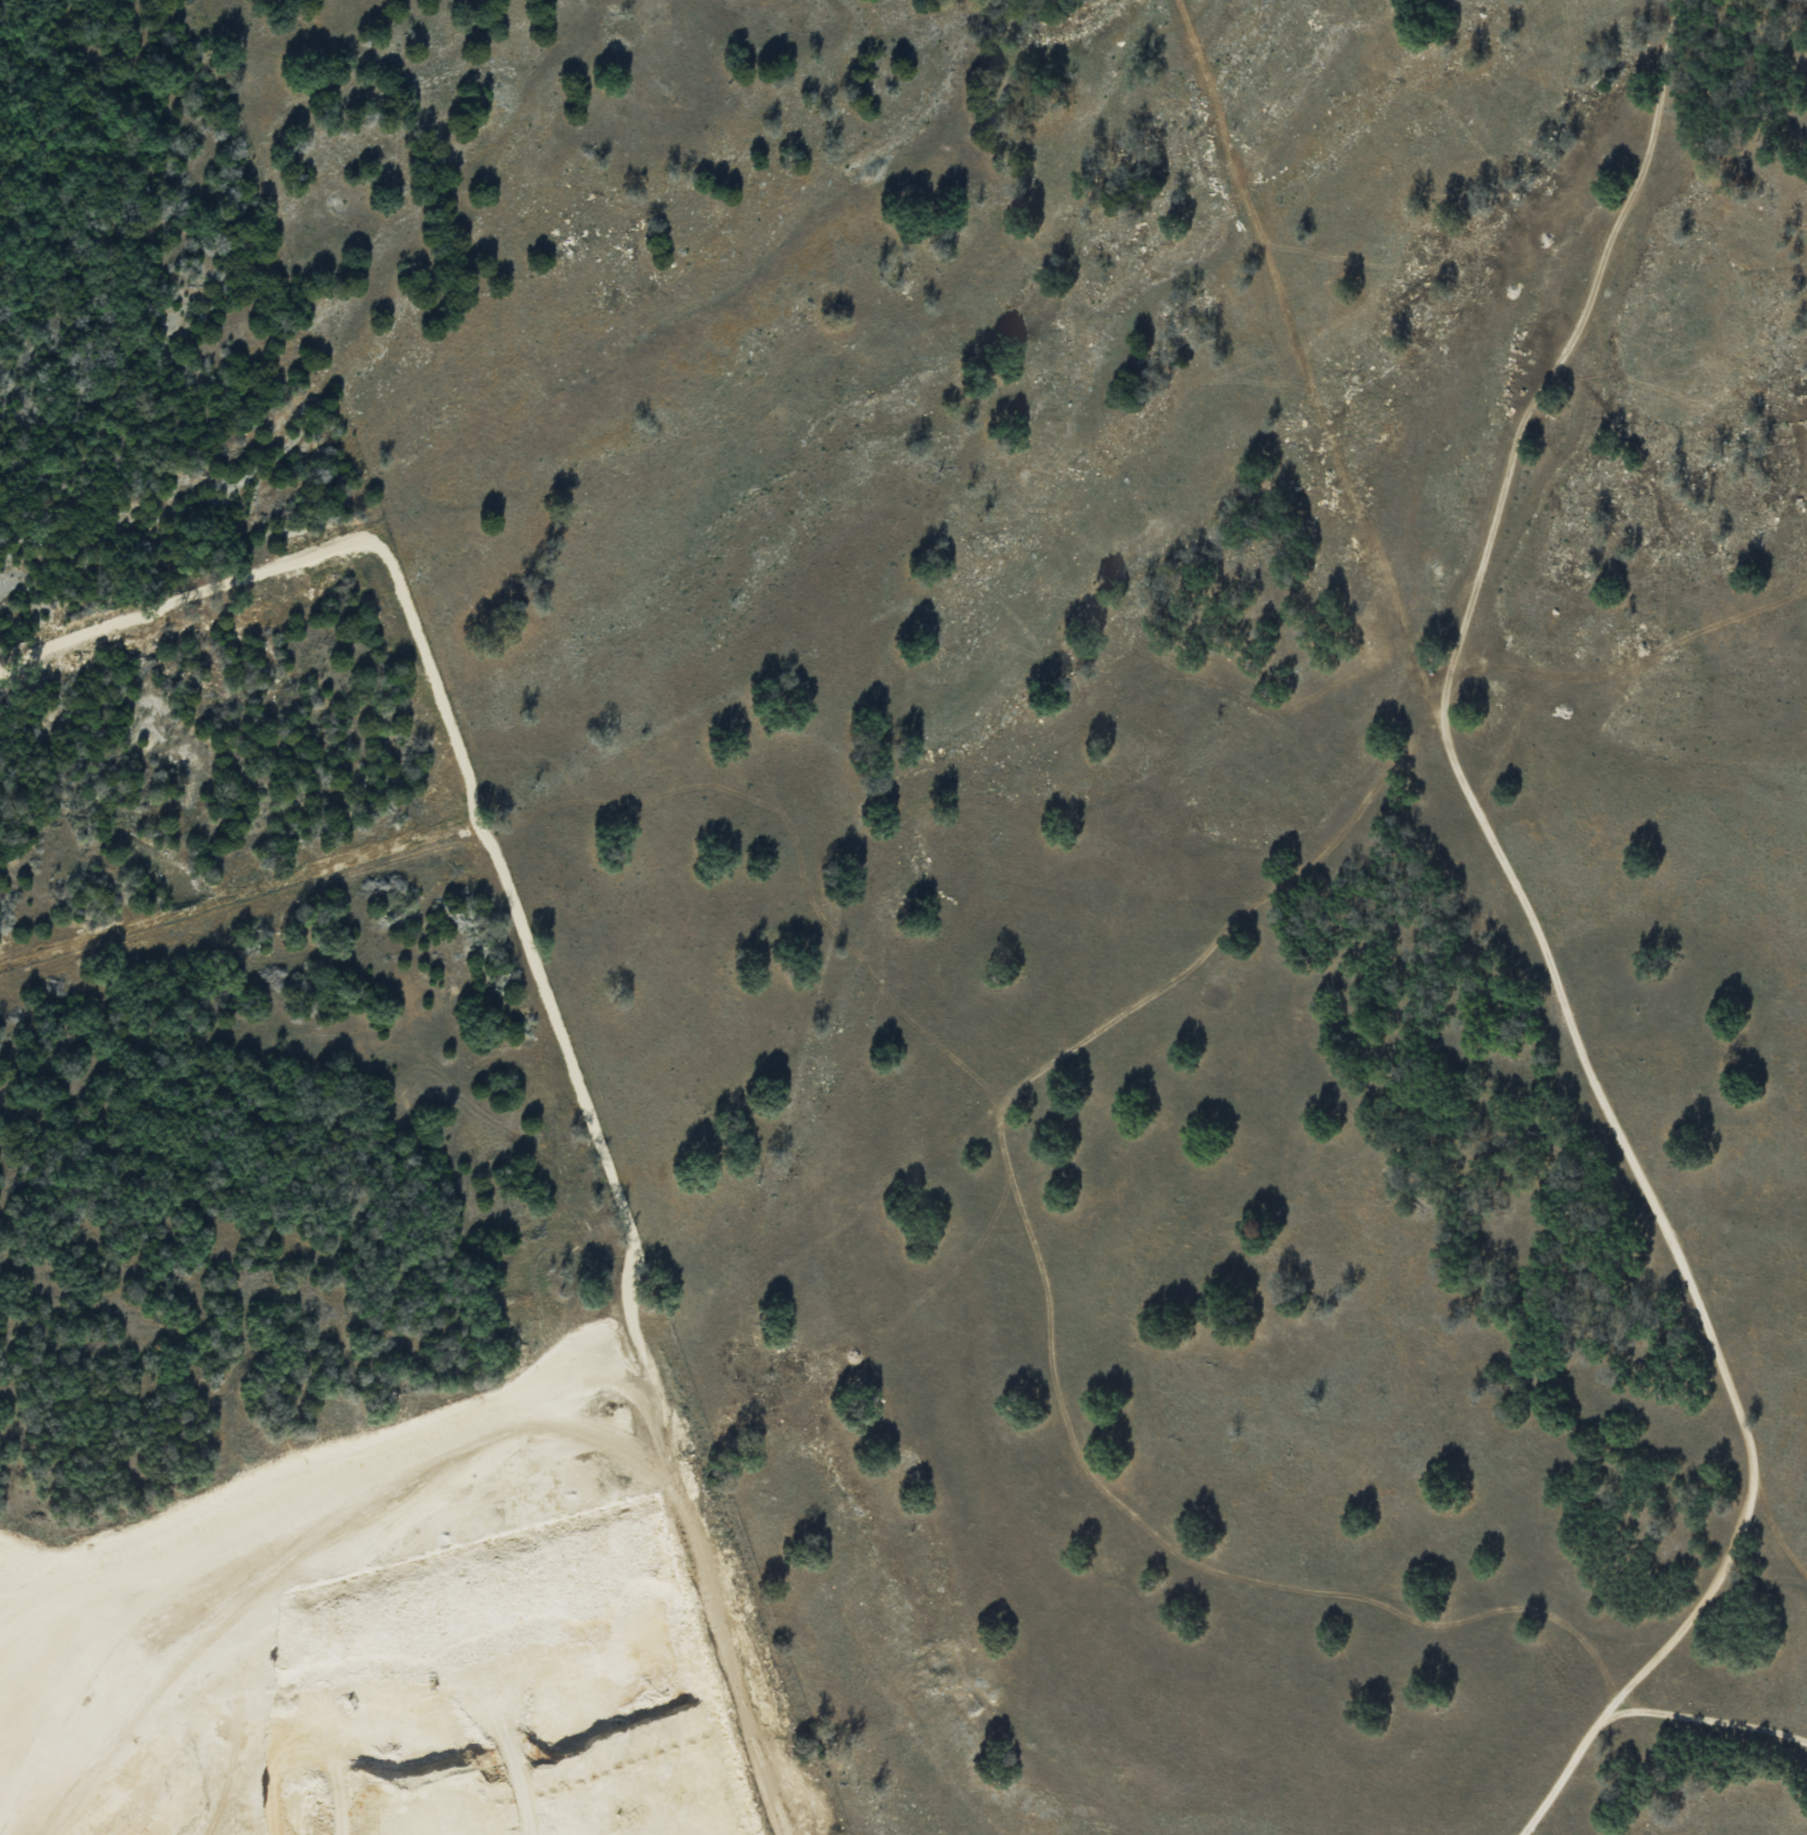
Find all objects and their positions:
road: (1632, 1710)

